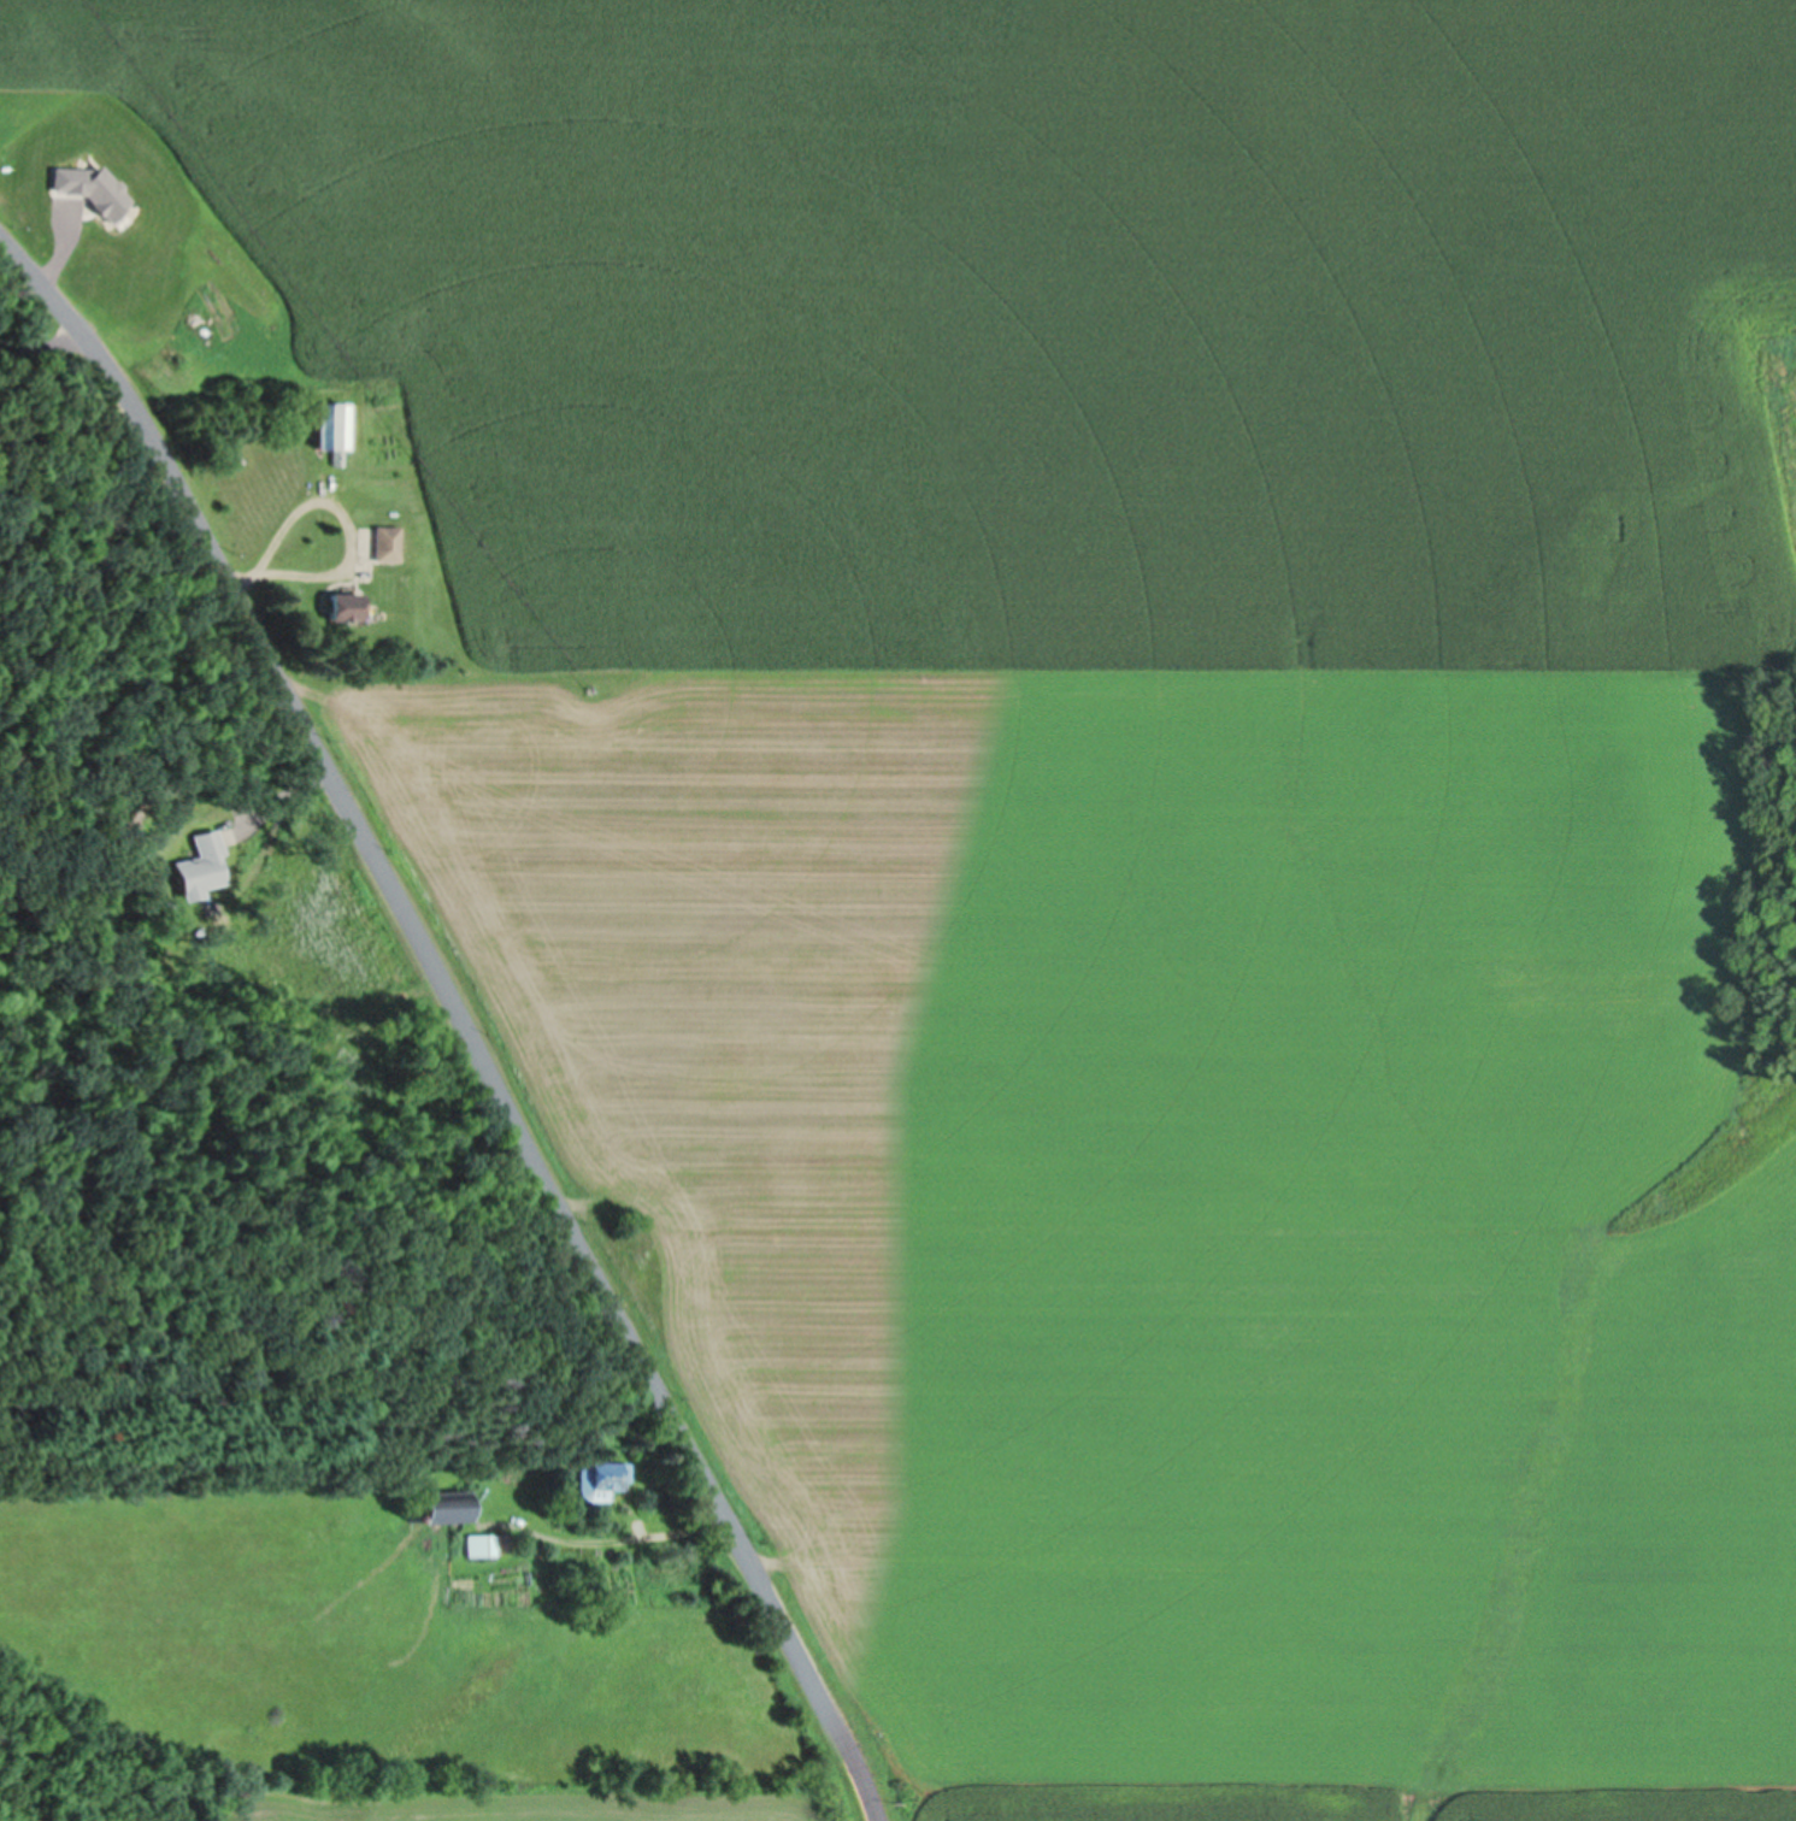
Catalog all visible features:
road: (41, 348)
building: (331, 428)
building: (389, 546)
building: (348, 608)
crop: (1118, 829)
building: (204, 868)
road: (458, 1015)
building: (600, 1481)
building: (446, 1516)
building: (485, 1548)
crop: (567, 1797)

